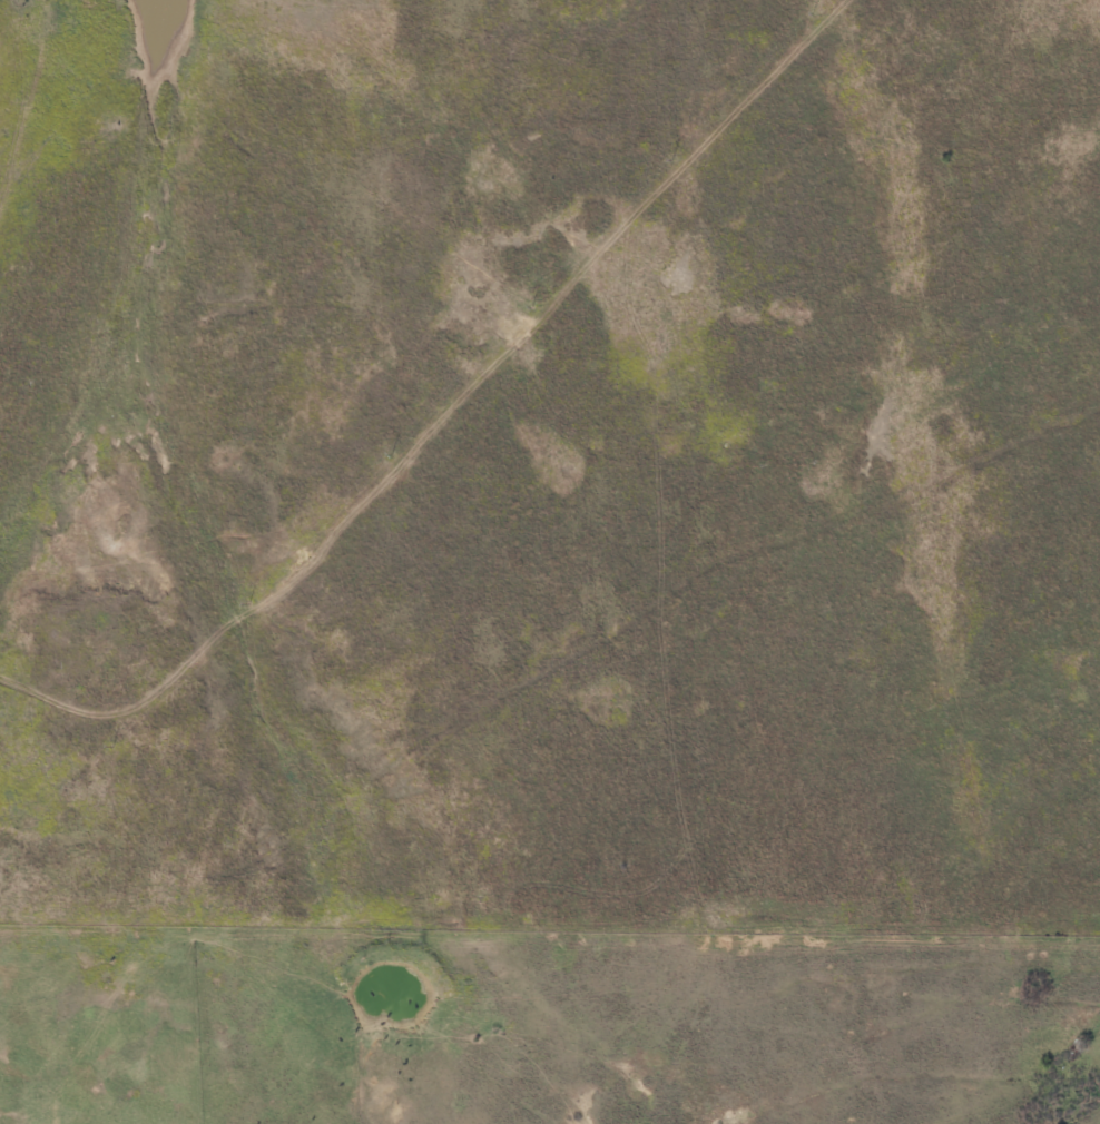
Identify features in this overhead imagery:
road: (71, 704)

